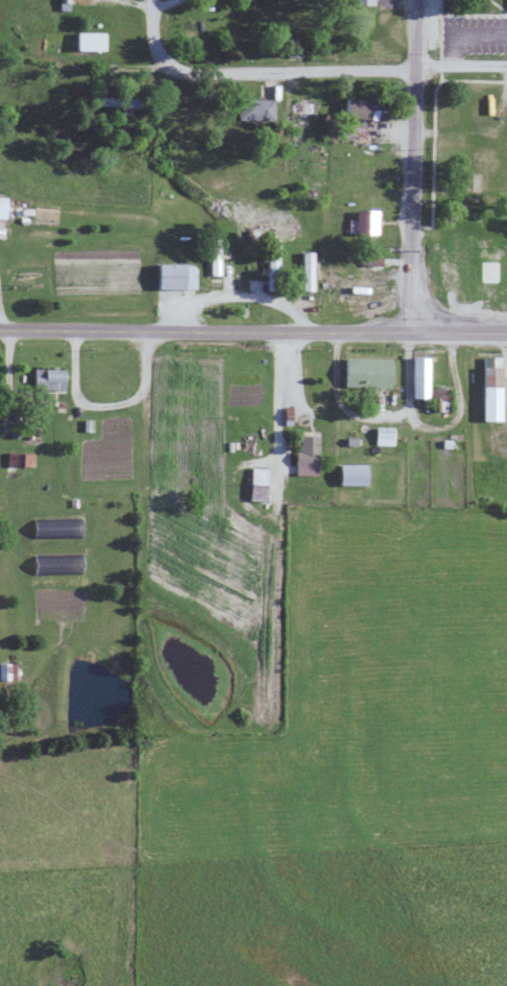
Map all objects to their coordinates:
building: (361, 2)
building: (63, 4)
building: (88, 41)
building: (293, 46)
road: (459, 66)
road: (254, 72)
building: (119, 101)
building: (358, 108)
building: (254, 109)
road: (411, 166)
building: (2, 207)
building: (364, 222)
building: (214, 256)
building: (272, 257)
building: (306, 270)
building: (173, 276)
road: (253, 331)
building: (364, 372)
building: (417, 377)
building: (46, 379)
building: (489, 388)
road: (272, 397)
building: (435, 397)
building: (382, 435)
building: (304, 456)
building: (20, 459)
building: (348, 475)
building: (255, 484)
building: (56, 528)
building: (57, 564)
building: (7, 671)

